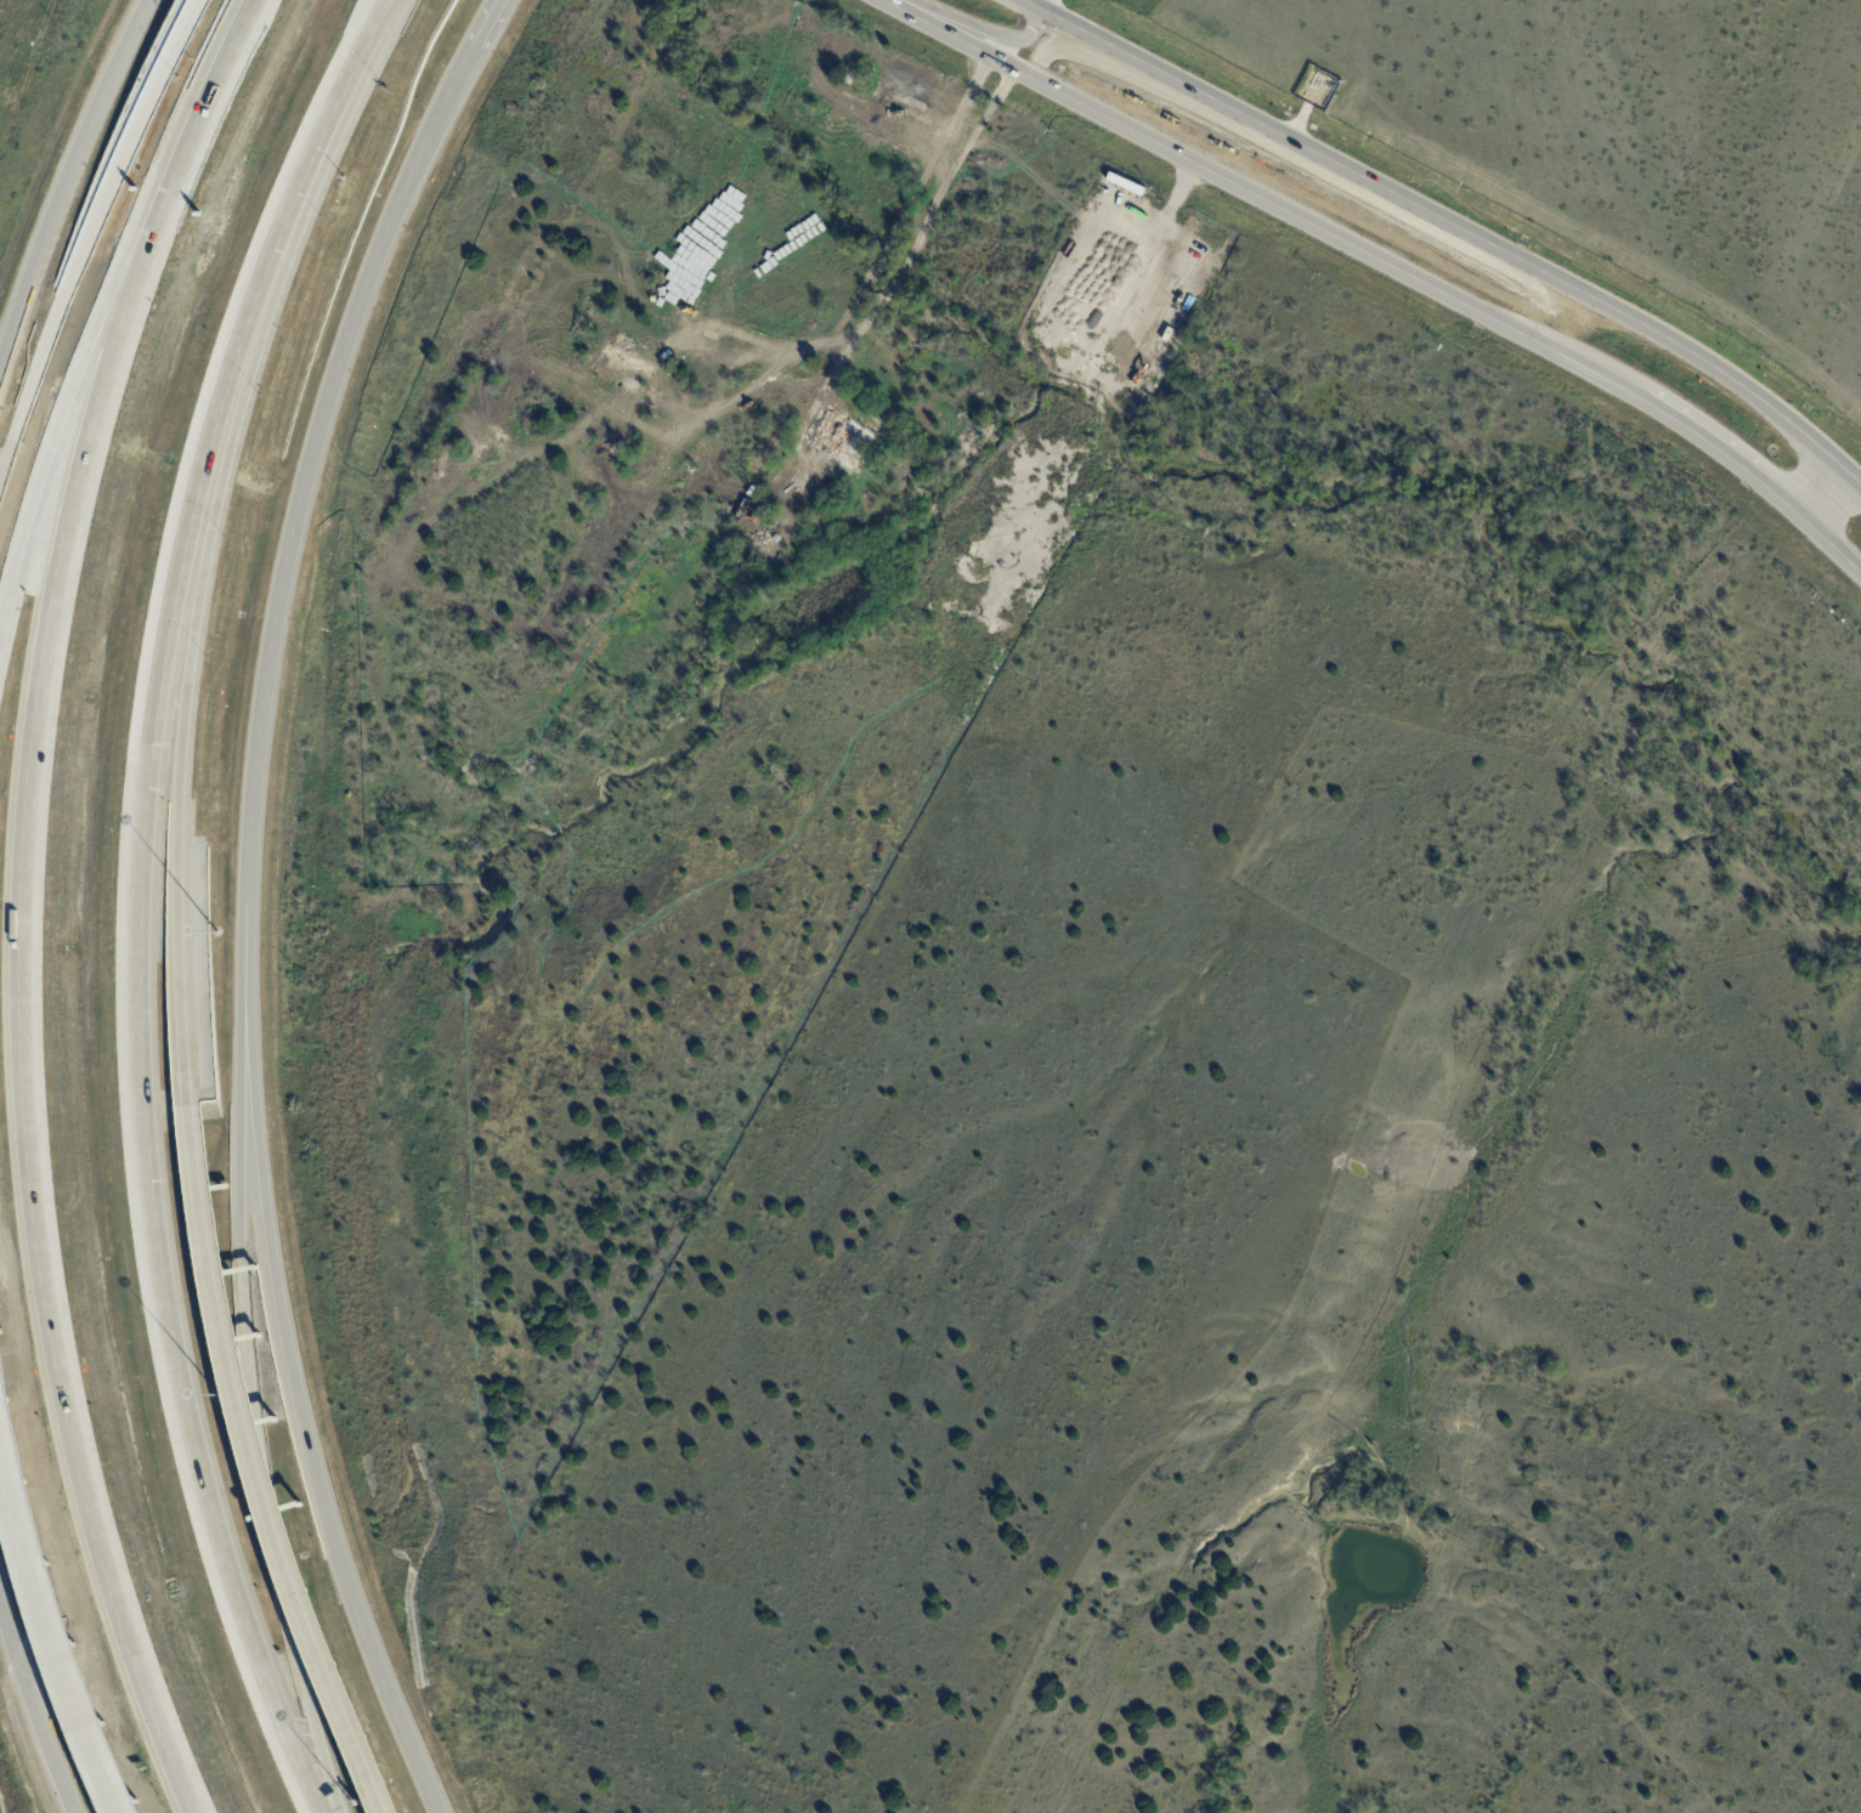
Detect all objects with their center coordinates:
road: (1045, 4)
road: (483, 24)
road: (969, 28)
road: (1138, 77)
building: (903, 90)
road: (330, 124)
road: (181, 152)
road: (63, 181)
road: (1251, 194)
road: (898, 220)
road: (1446, 223)
building: (1079, 230)
road: (922, 231)
road: (89, 236)
building: (626, 358)
building: (492, 362)
building: (632, 386)
building: (836, 441)
building: (446, 444)
building: (604, 447)
road: (1713, 449)
road: (49, 464)
road: (1855, 477)
building: (791, 487)
road: (1823, 495)
building: (767, 497)
building: (856, 512)
building: (757, 536)
road: (1829, 546)
building: (600, 549)
road: (198, 613)
road: (250, 927)
road: (149, 1037)
road: (15, 1069)
road: (251, 1359)
road: (233, 1399)
road: (50, 1637)
road: (34, 1715)
road: (378, 1806)

